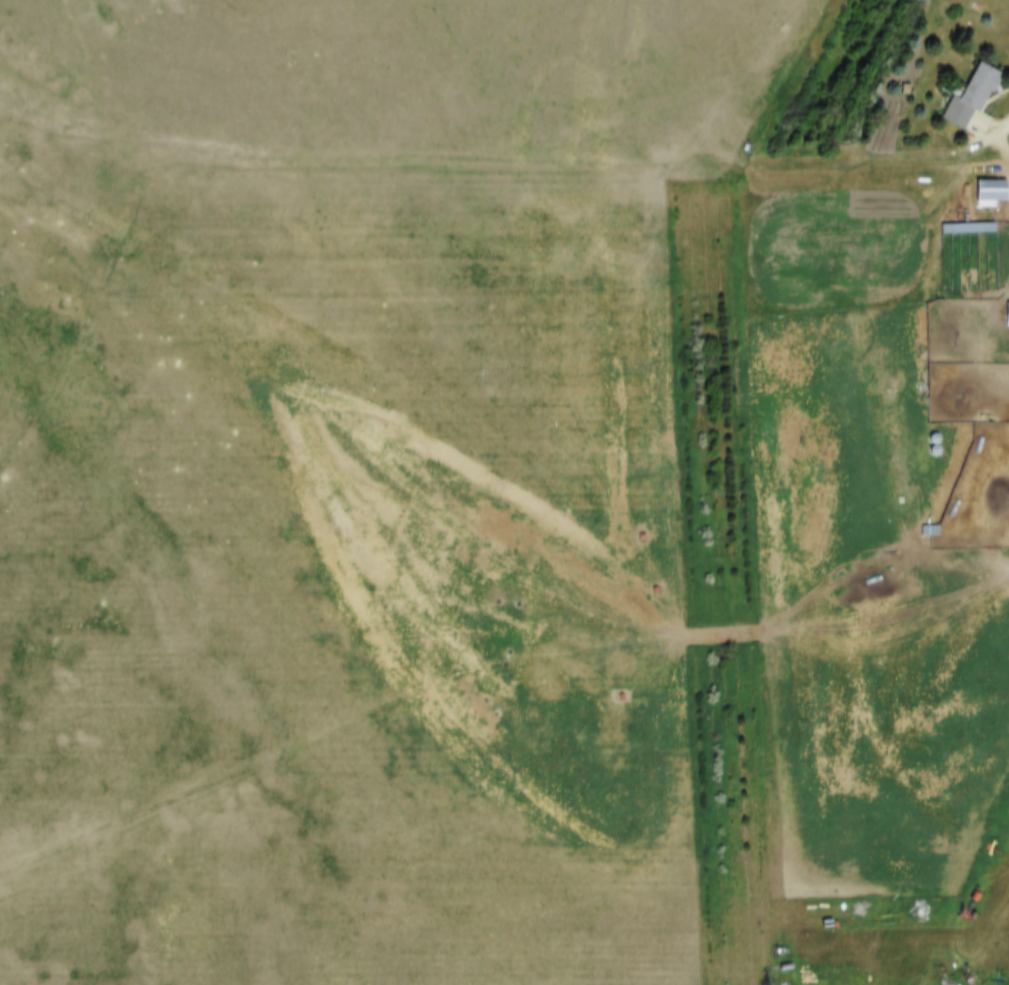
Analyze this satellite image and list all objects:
building: (963, 90)
road: (1004, 143)
road: (855, 166)
building: (983, 184)
building: (1004, 305)

